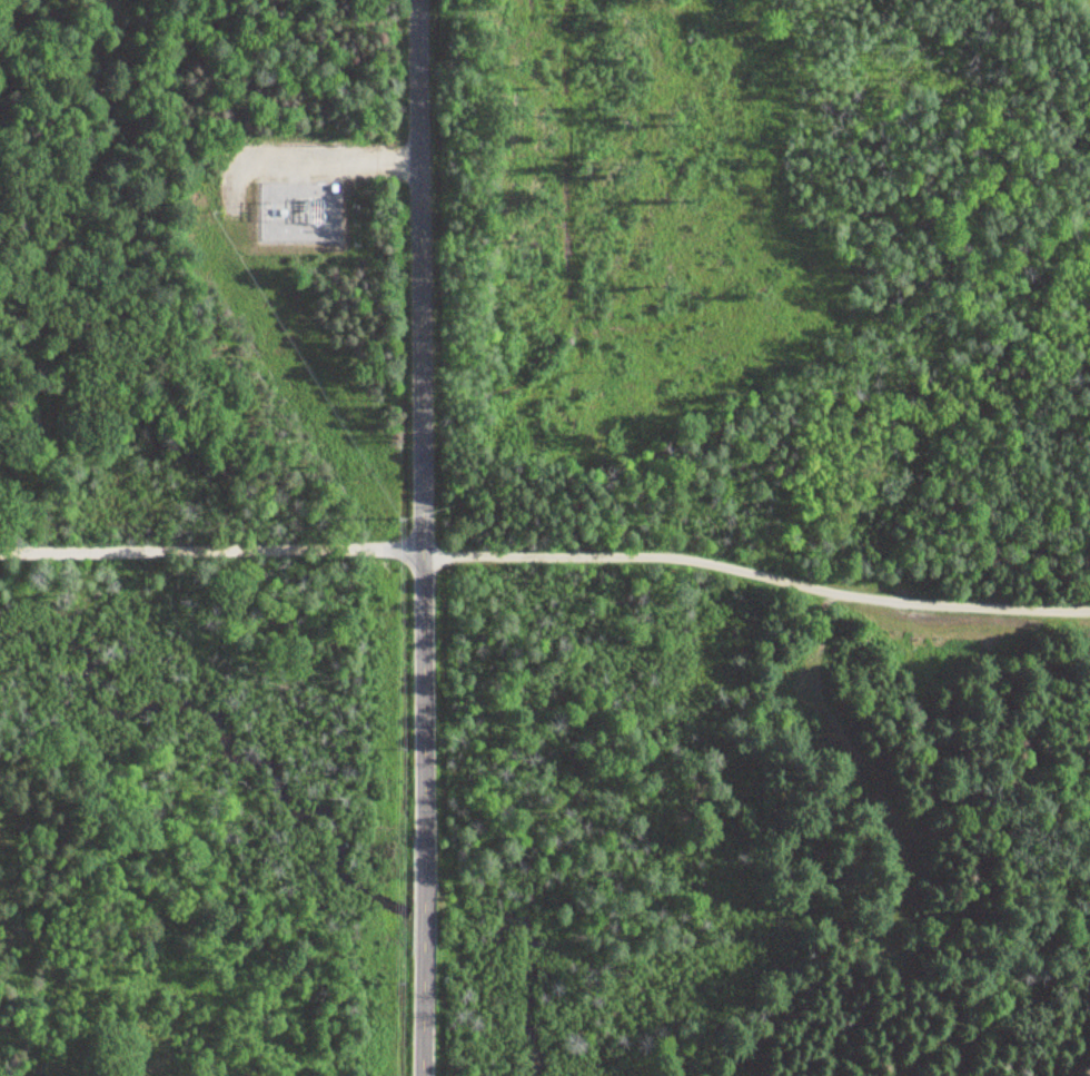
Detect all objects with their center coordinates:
power substation: (297, 210)
road: (424, 537)
road: (211, 551)
road: (756, 575)
road: (1077, 595)

